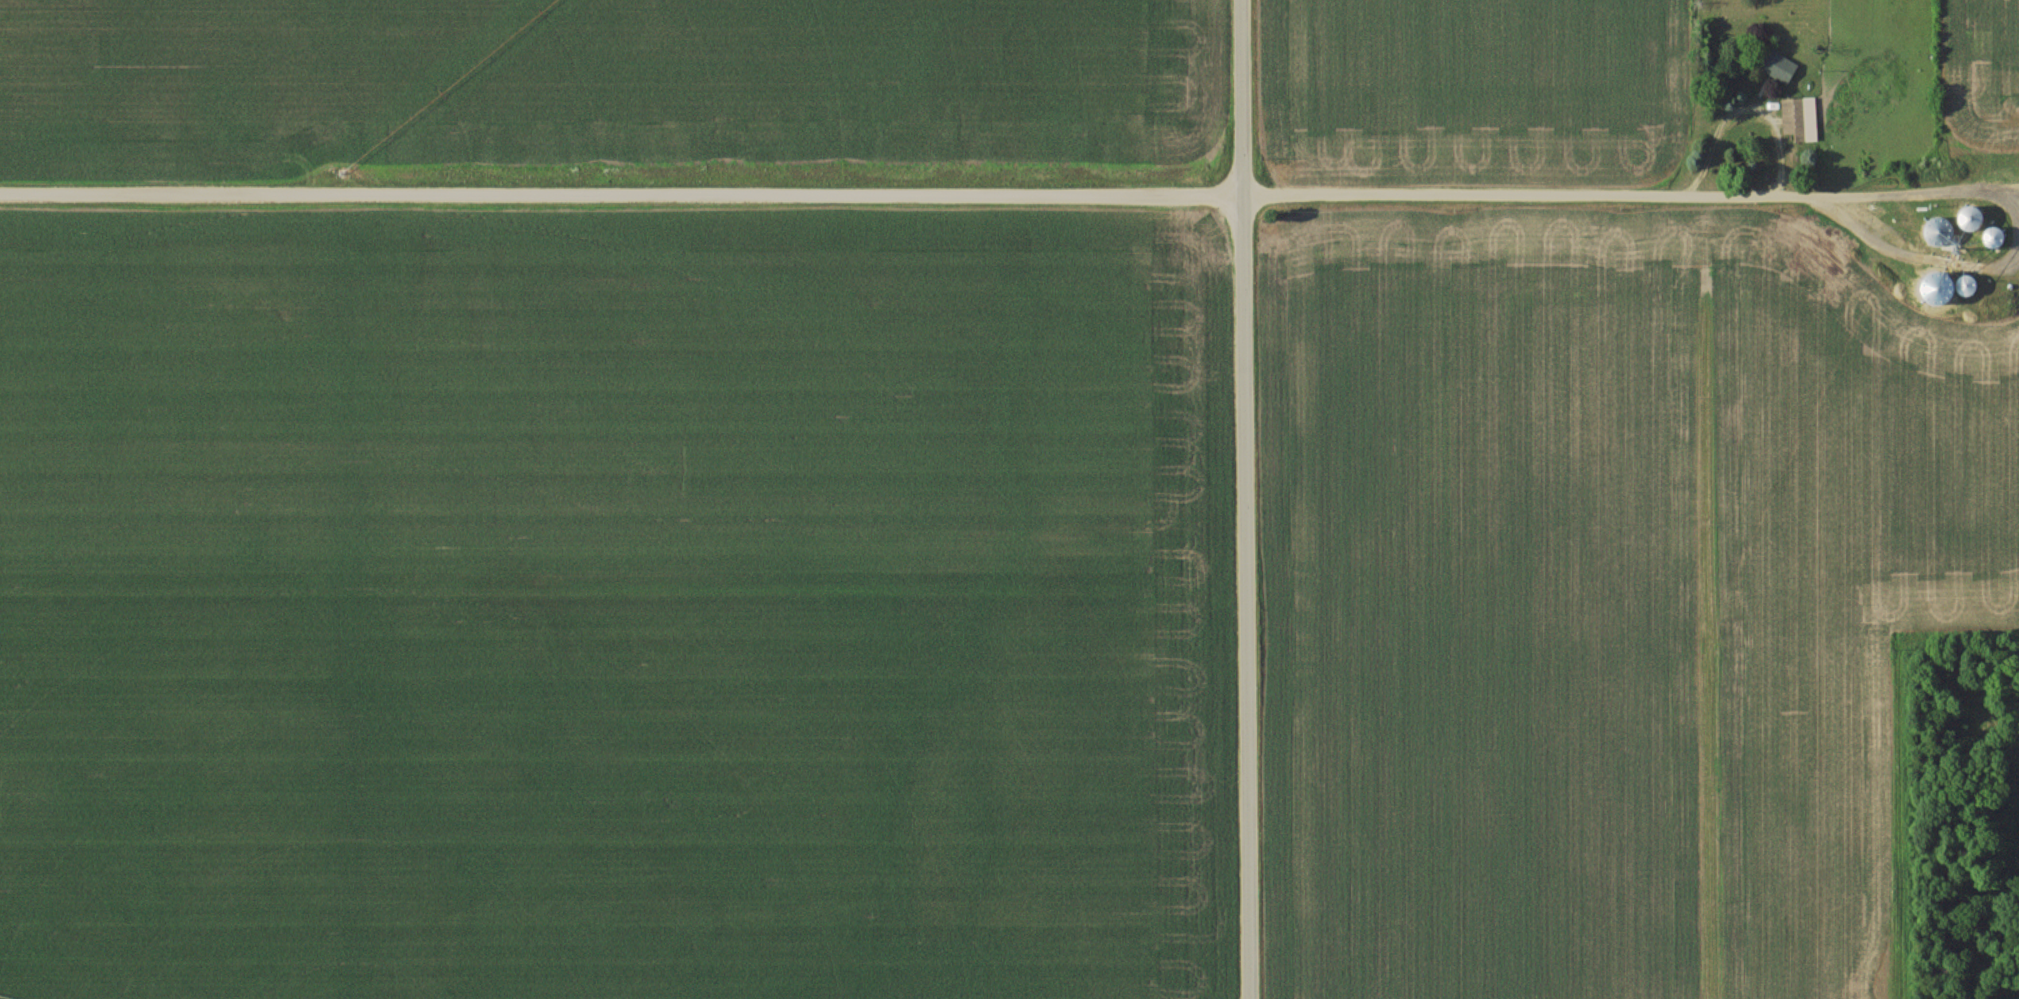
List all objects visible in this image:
building: (1777, 67)
building: (1800, 120)
road: (1012, 196)
building: (1968, 239)
road: (1248, 499)

